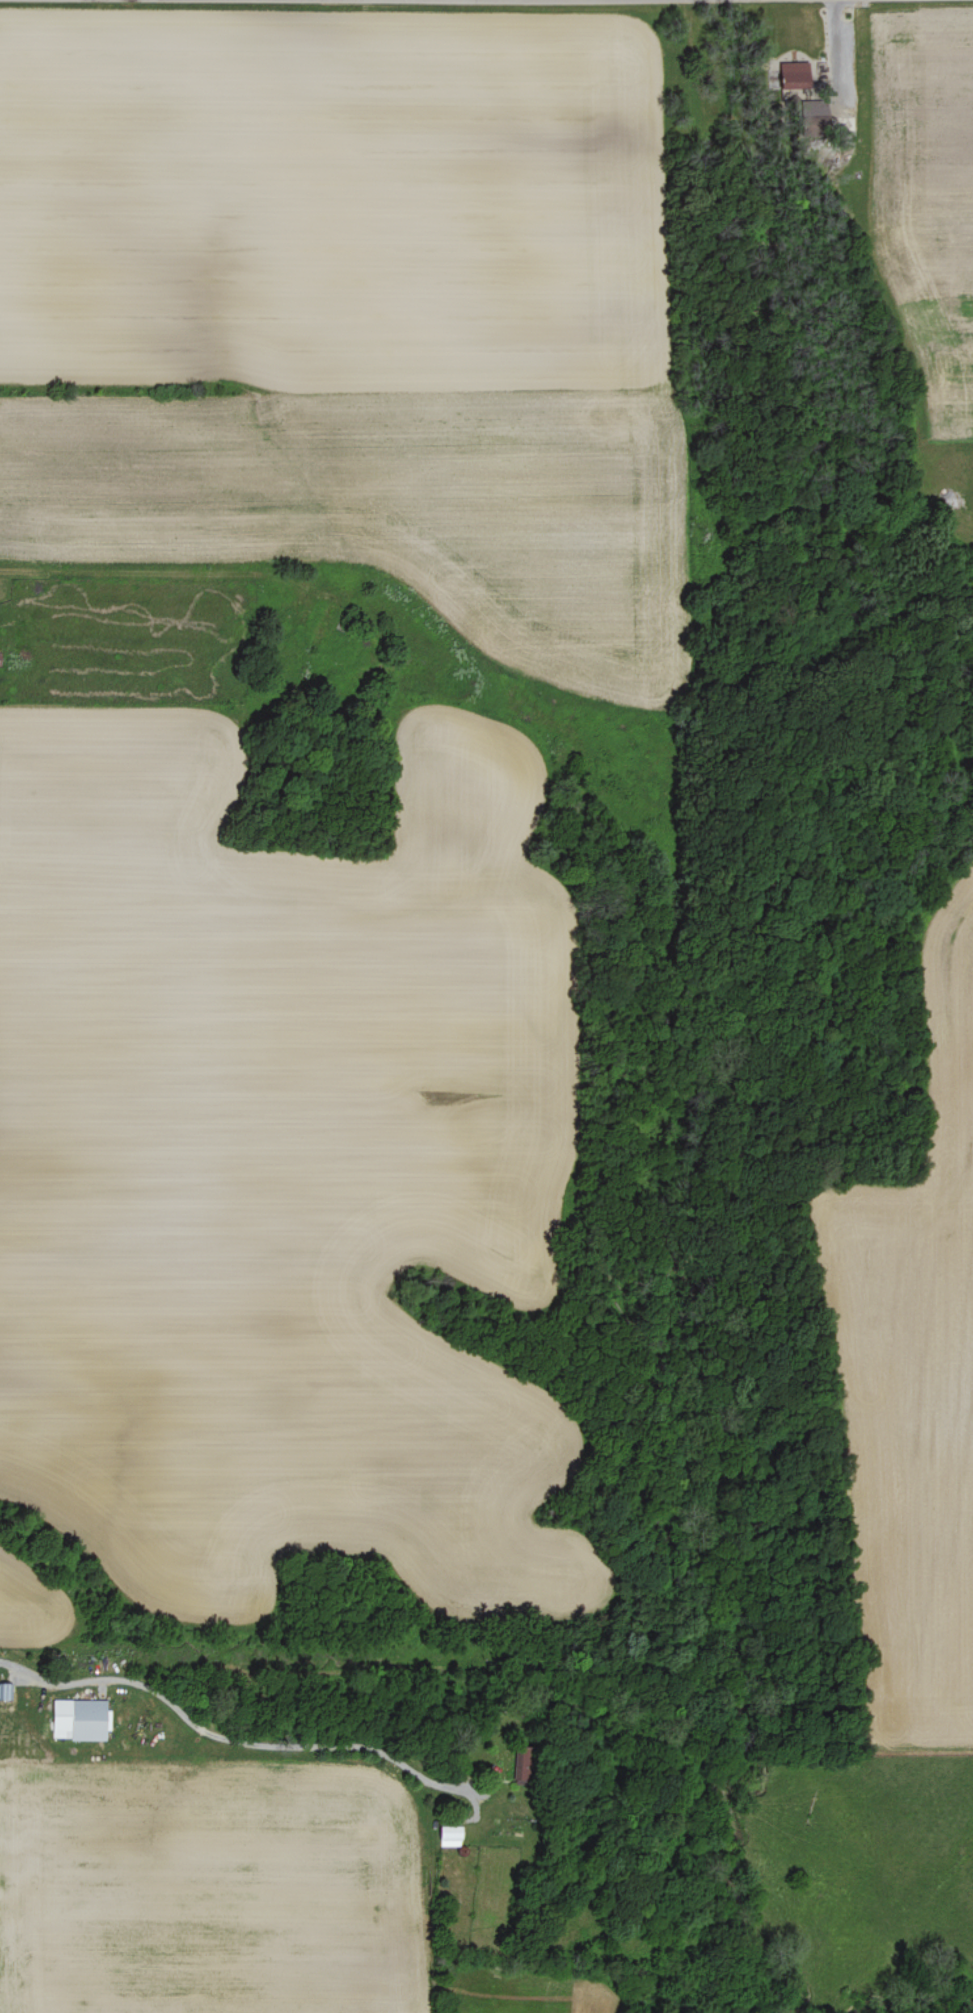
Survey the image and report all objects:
building: (794, 76)
building: (815, 115)
building: (6, 1692)
building: (81, 1721)
road: (232, 1741)
building: (450, 1837)

